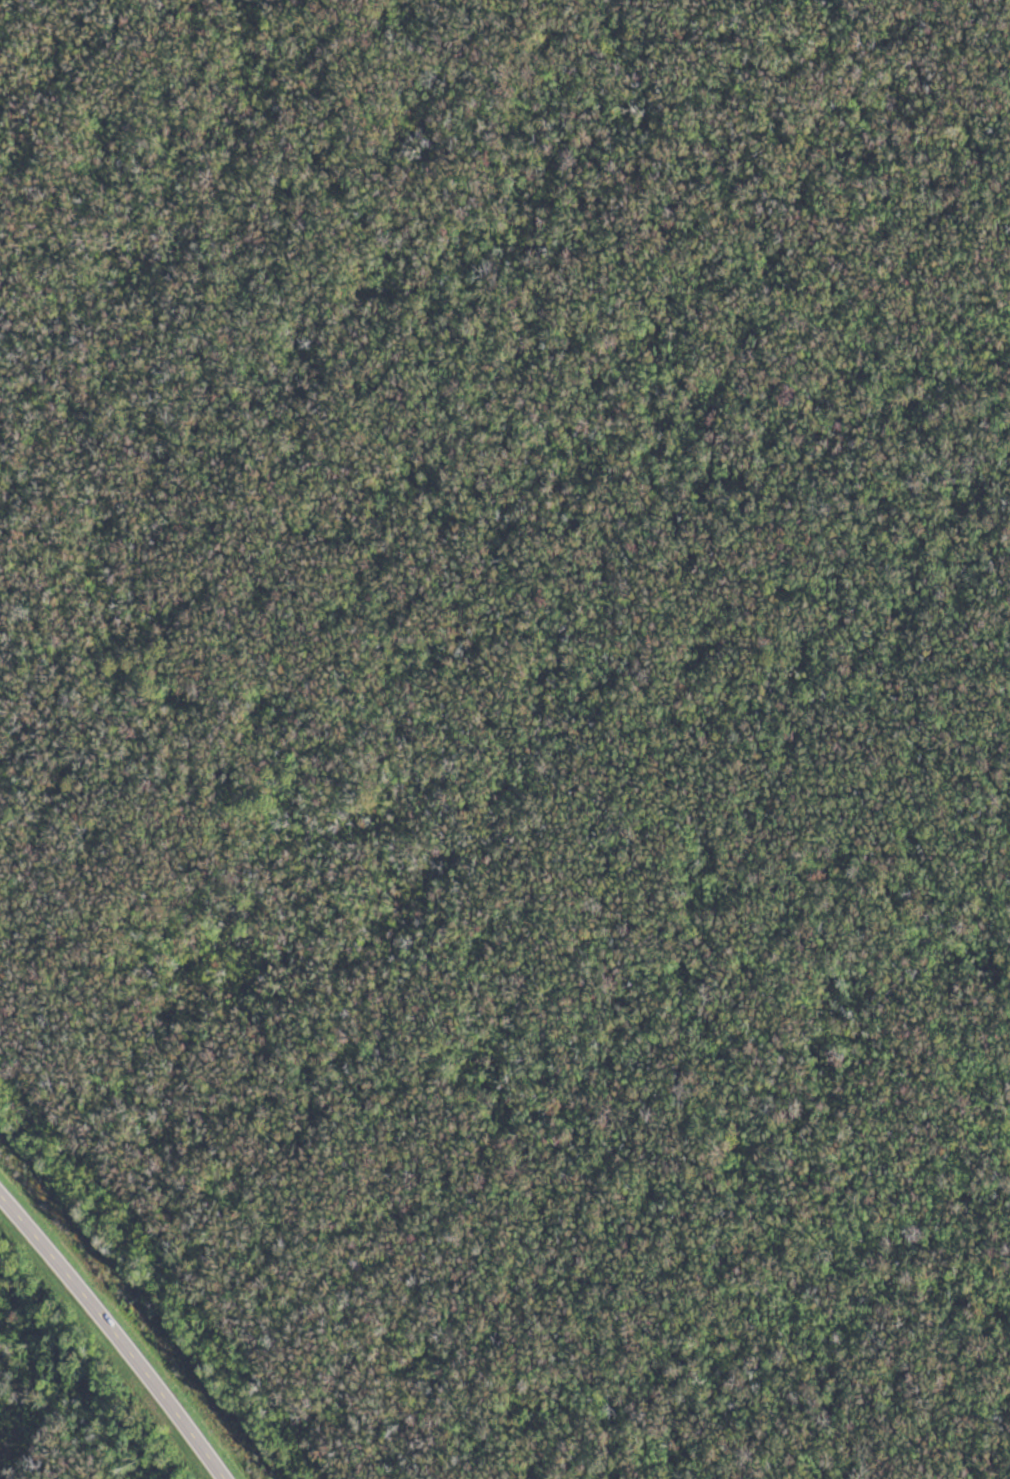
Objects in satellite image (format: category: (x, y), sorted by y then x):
road: (123, 1324)

